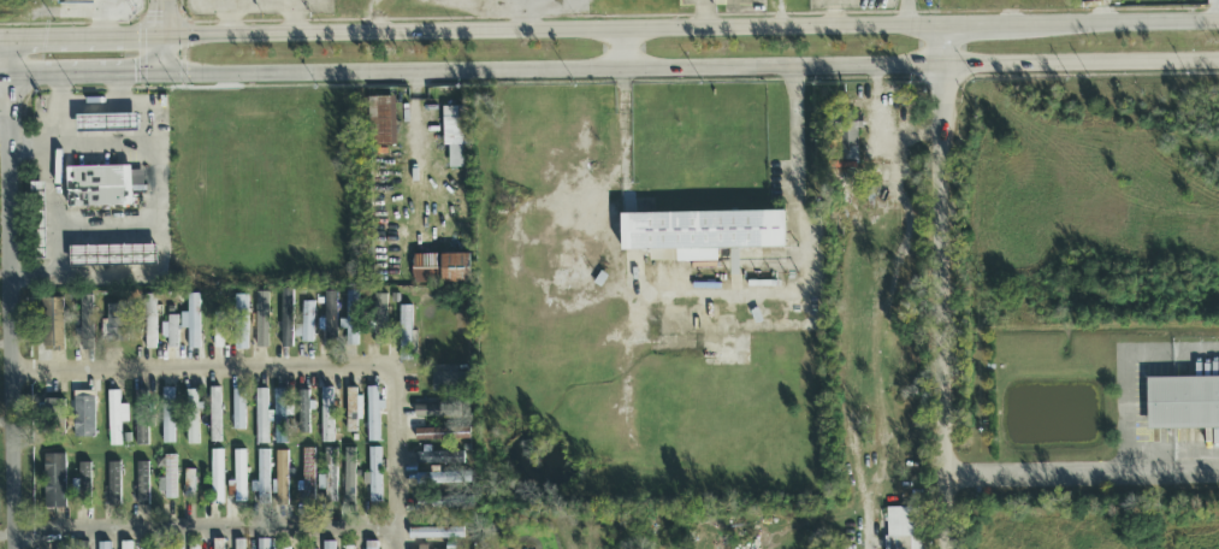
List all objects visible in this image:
building: (76, 1)
road: (1102, 11)
road: (1218, 11)
road: (291, 13)
road: (230, 18)
road: (164, 19)
road: (1125, 22)
road: (988, 24)
road: (552, 31)
road: (146, 39)
road: (65, 40)
road: (2, 42)
road: (625, 49)
road: (164, 57)
road: (691, 69)
road: (103, 76)
road: (22, 78)
road: (118, 91)
road: (107, 108)
road: (60, 112)
building: (383, 122)
building: (107, 124)
road: (413, 124)
building: (456, 134)
building: (842, 135)
road: (625, 138)
road: (79, 144)
building: (102, 187)
road: (155, 190)
gas station: (100, 191)
road: (51, 212)
building: (39, 216)
road: (632, 230)
road: (105, 235)
building: (700, 235)
building: (113, 255)
building: (442, 270)
road: (84, 277)
road: (810, 283)
road: (946, 287)
road: (10, 295)
building: (286, 319)
building: (262, 320)
building: (330, 320)
building: (351, 320)
building: (379, 320)
building: (117, 323)
building: (149, 323)
building: (191, 323)
building: (53, 324)
building: (85, 324)
building: (306, 324)
building: (232, 326)
building: (173, 332)
building: (406, 333)
road: (1196, 355)
road: (203, 368)
building: (449, 378)
building: (1183, 403)
building: (353, 409)
building: (238, 411)
building: (434, 412)
road: (1129, 412)
building: (304, 413)
building: (143, 415)
building: (215, 415)
building: (168, 417)
building: (280, 417)
building: (327, 417)
building: (373, 417)
building: (84, 418)
building: (116, 418)
building: (261, 418)
building: (193, 419)
building: (440, 435)
road: (396, 456)
building: (438, 457)
road: (1196, 468)
road: (1040, 470)
building: (308, 474)
building: (349, 476)
building: (238, 477)
building: (329, 477)
building: (374, 477)
building: (218, 478)
building: (262, 478)
building: (282, 478)
building: (170, 479)
building: (436, 479)
building: (83, 480)
building: (54, 482)
building: (113, 484)
building: (142, 484)
building: (189, 484)
building: (445, 502)
building: (905, 529)
road: (207, 530)
building: (436, 533)
building: (218, 544)
building: (238, 544)
building: (265, 544)
building: (83, 545)
building: (103, 545)
building: (126, 545)
building: (195, 545)
building: (329, 545)
building: (371, 545)
building: (172, 548)
building: (289, 548)

